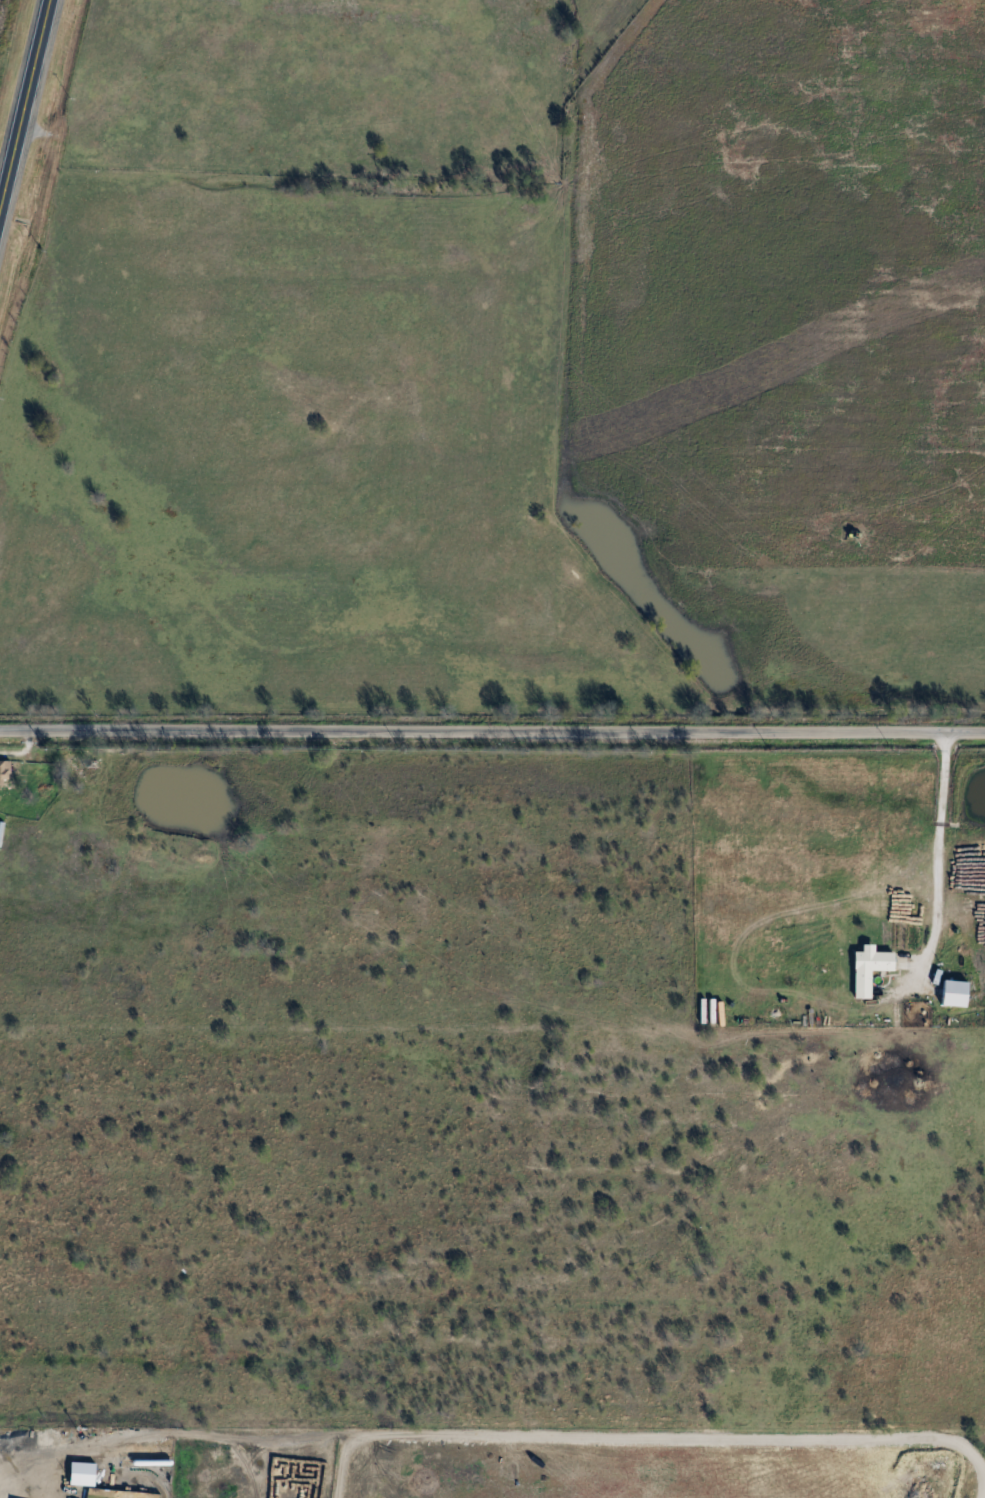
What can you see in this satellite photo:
road: (25, 108)
road: (492, 730)
building: (6, 770)
building: (93, 772)
road: (936, 845)
building: (874, 963)
building: (957, 992)

